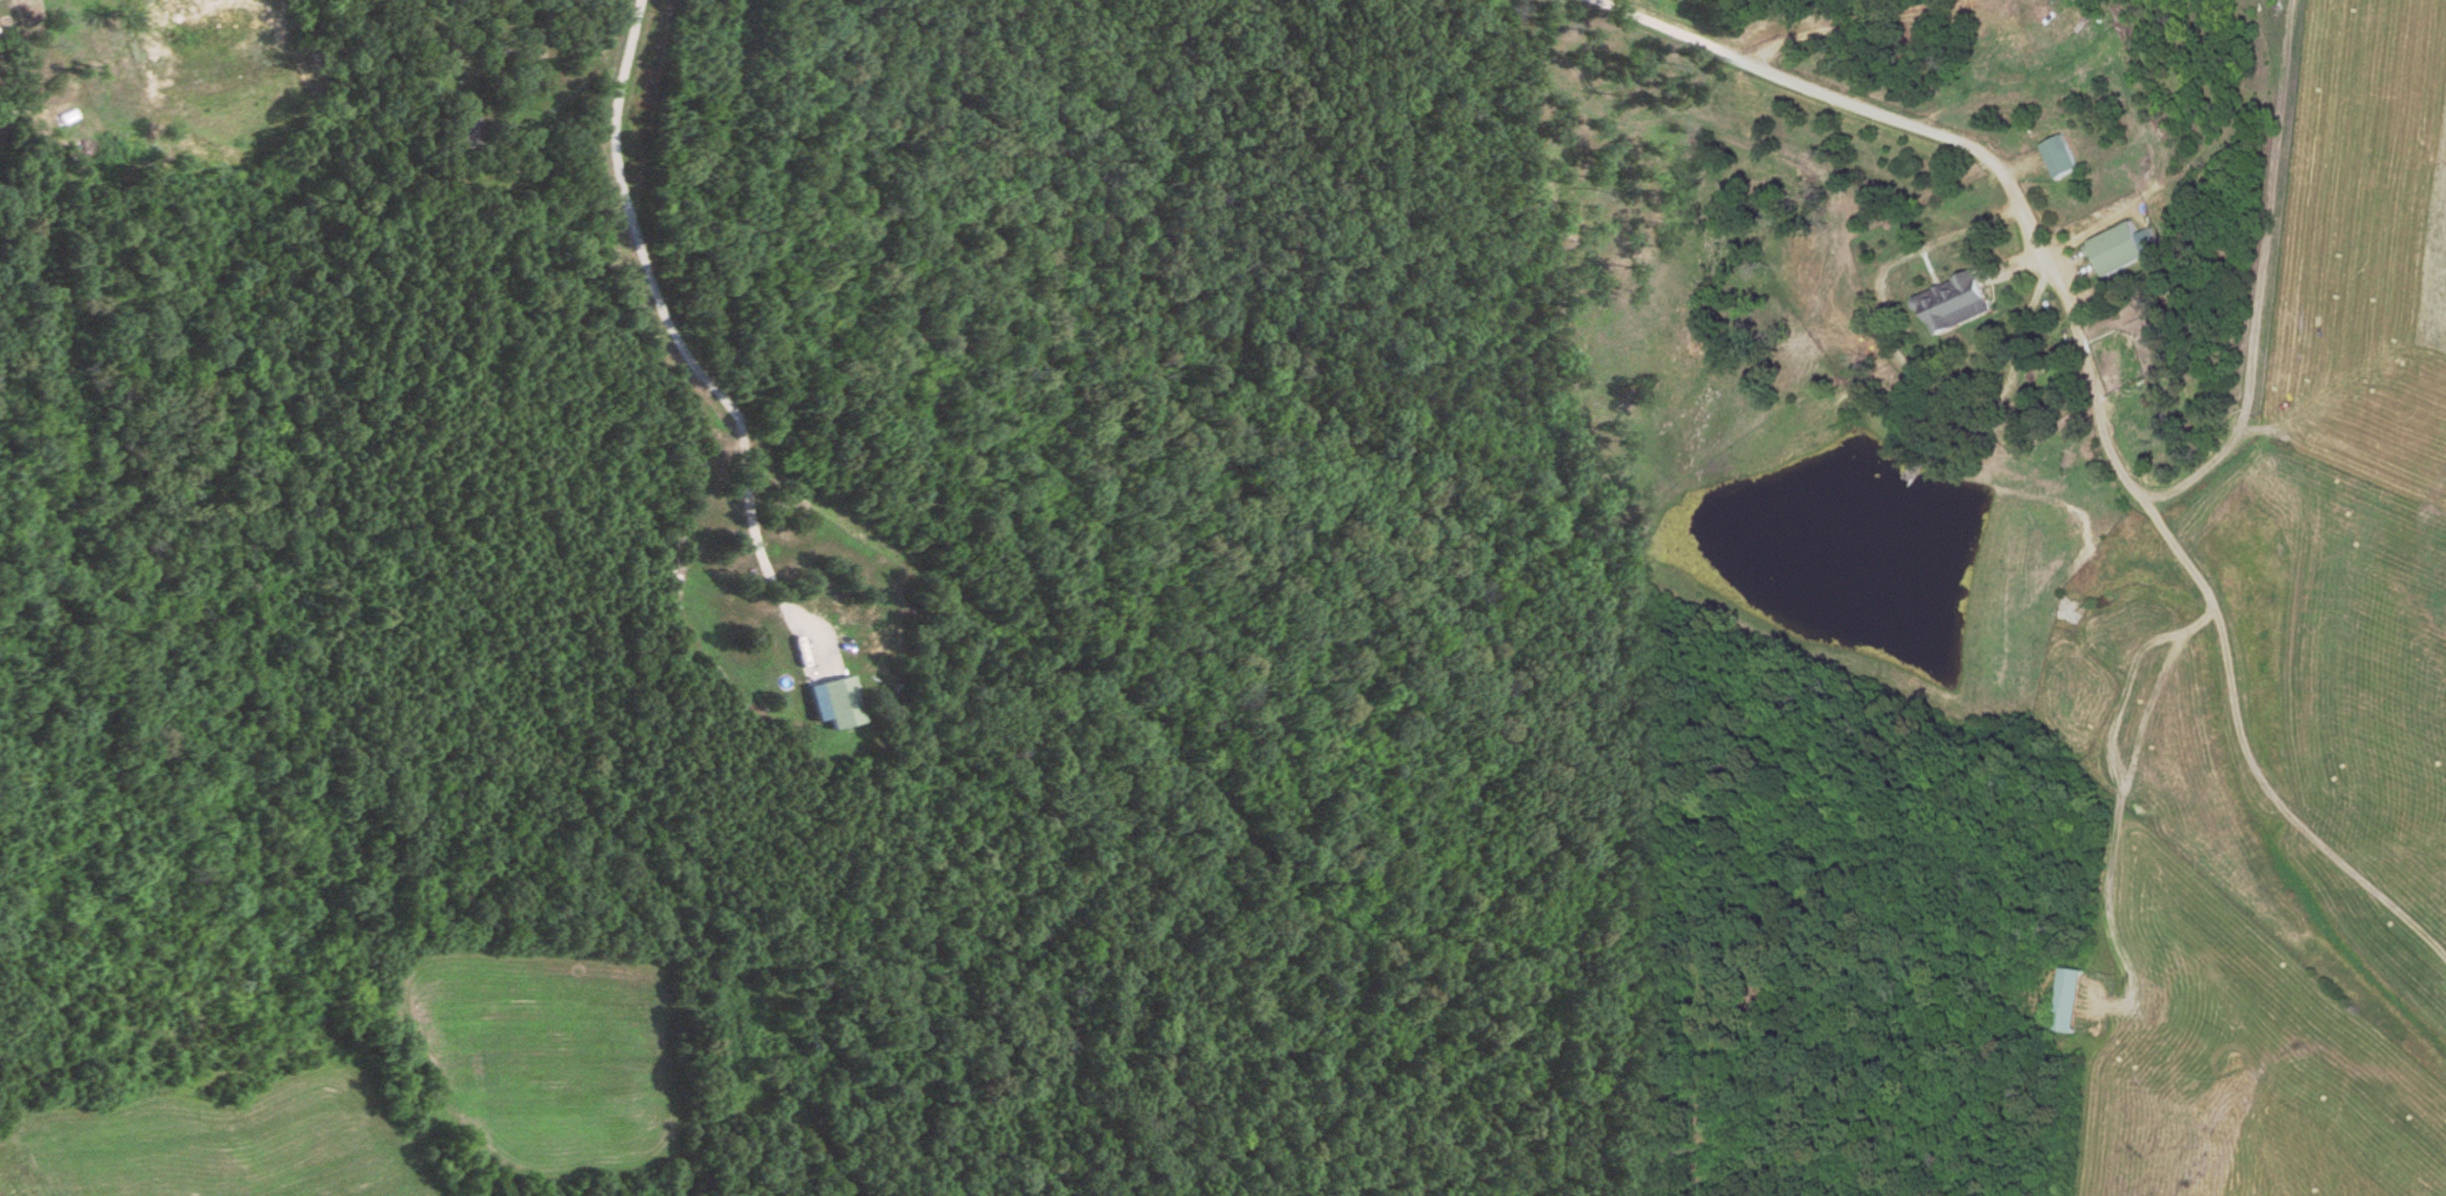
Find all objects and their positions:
road: (2247, 97)
building: (2069, 157)
road: (2010, 185)
building: (2130, 248)
building: (1966, 303)
road: (668, 329)
road: (1906, 368)
building: (840, 703)

